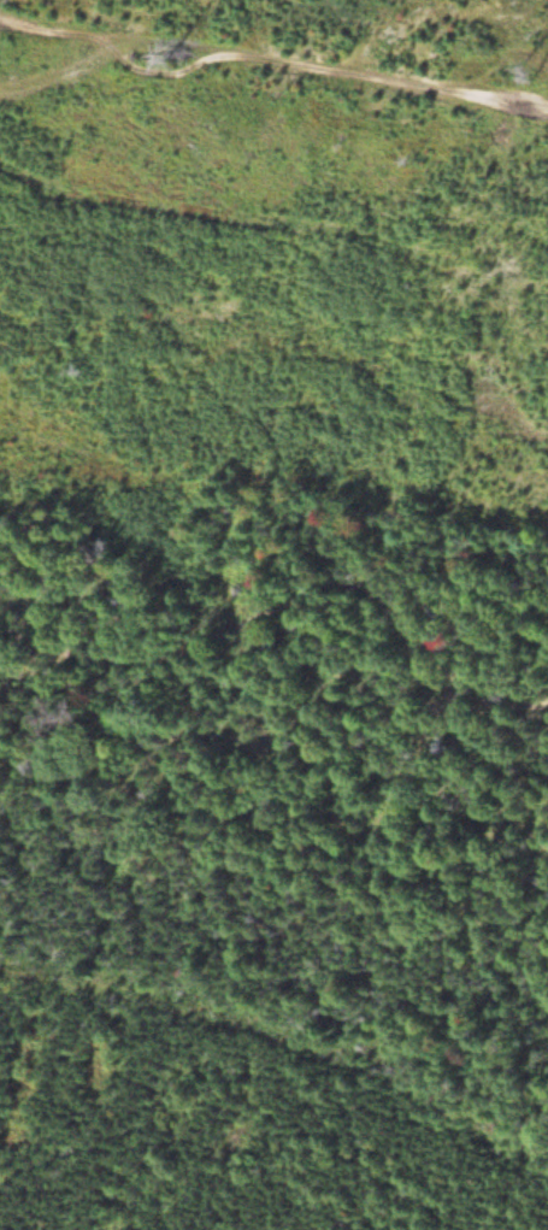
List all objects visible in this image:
road: (161, 42)
road: (435, 86)
road: (293, 604)

